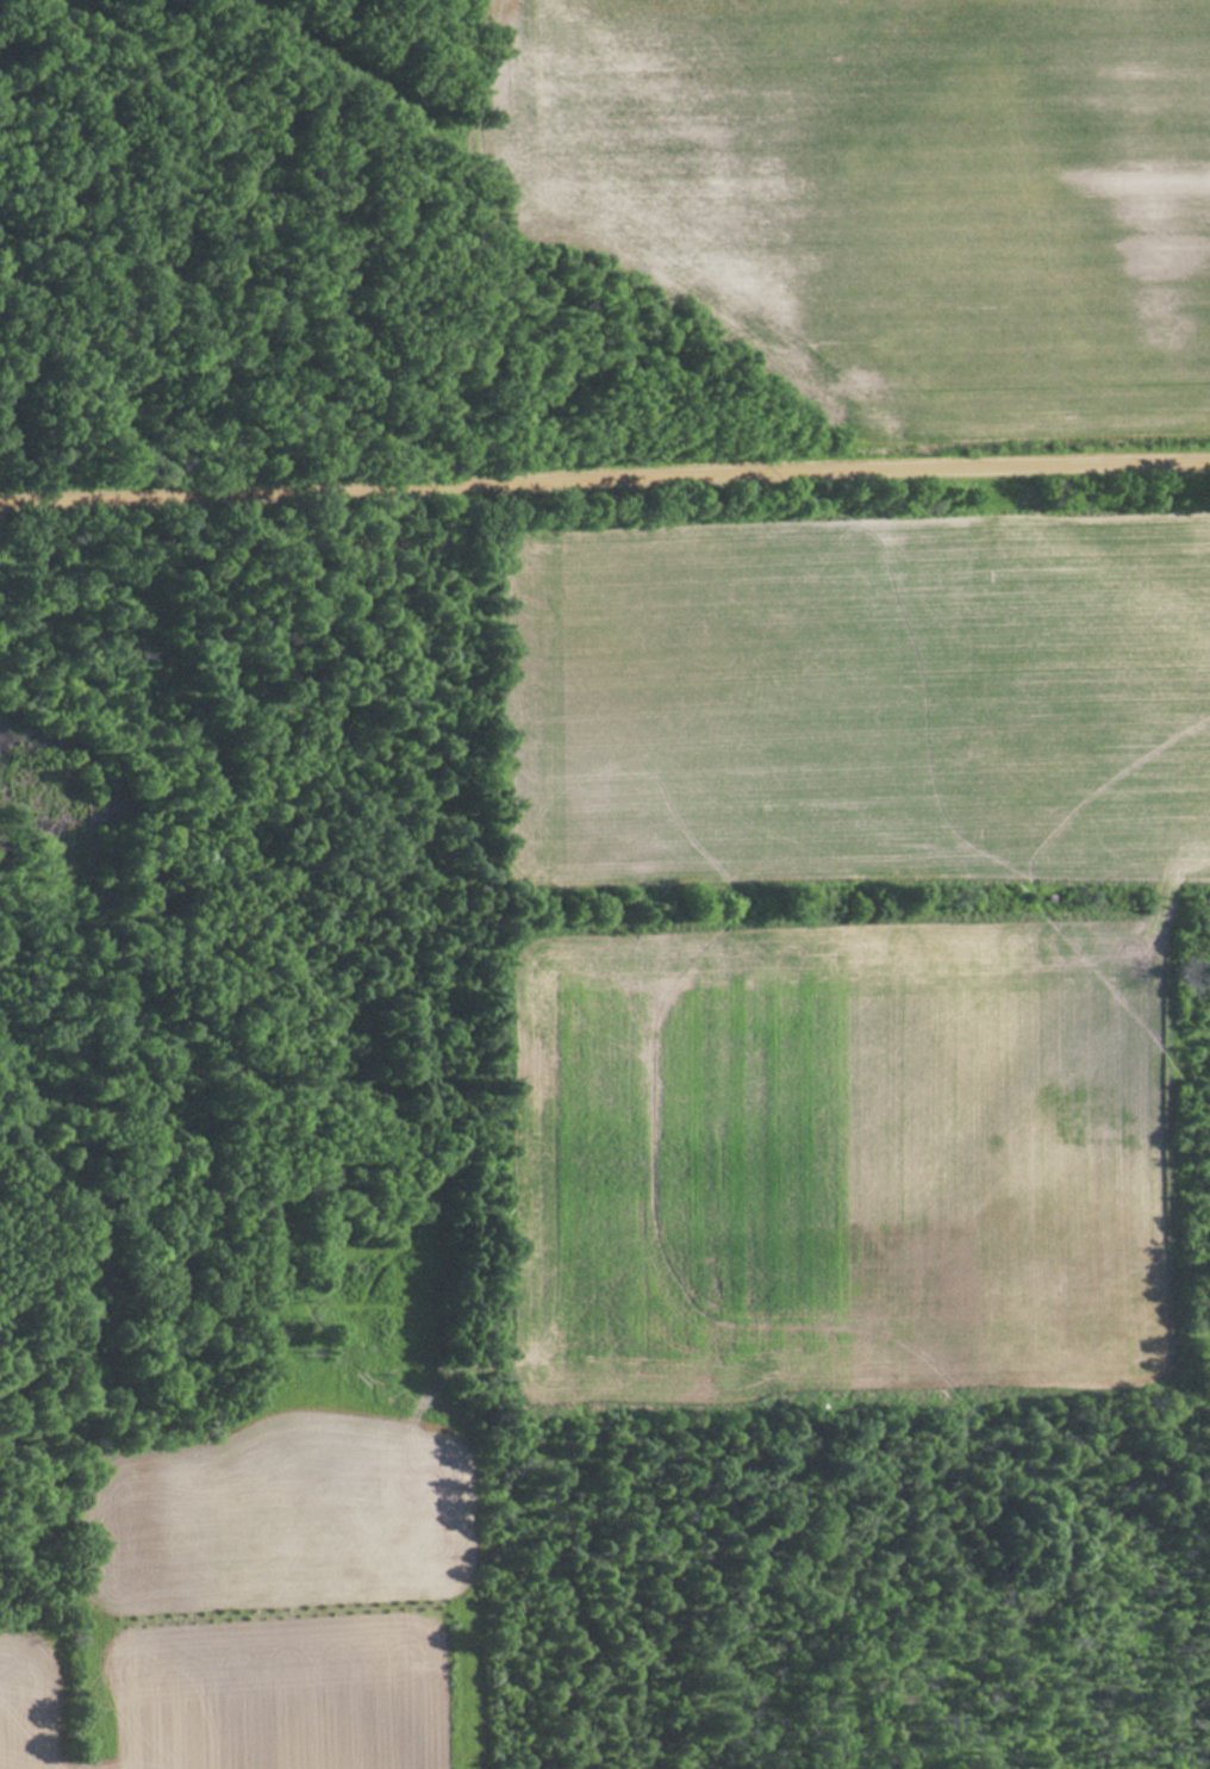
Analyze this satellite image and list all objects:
road: (604, 486)

